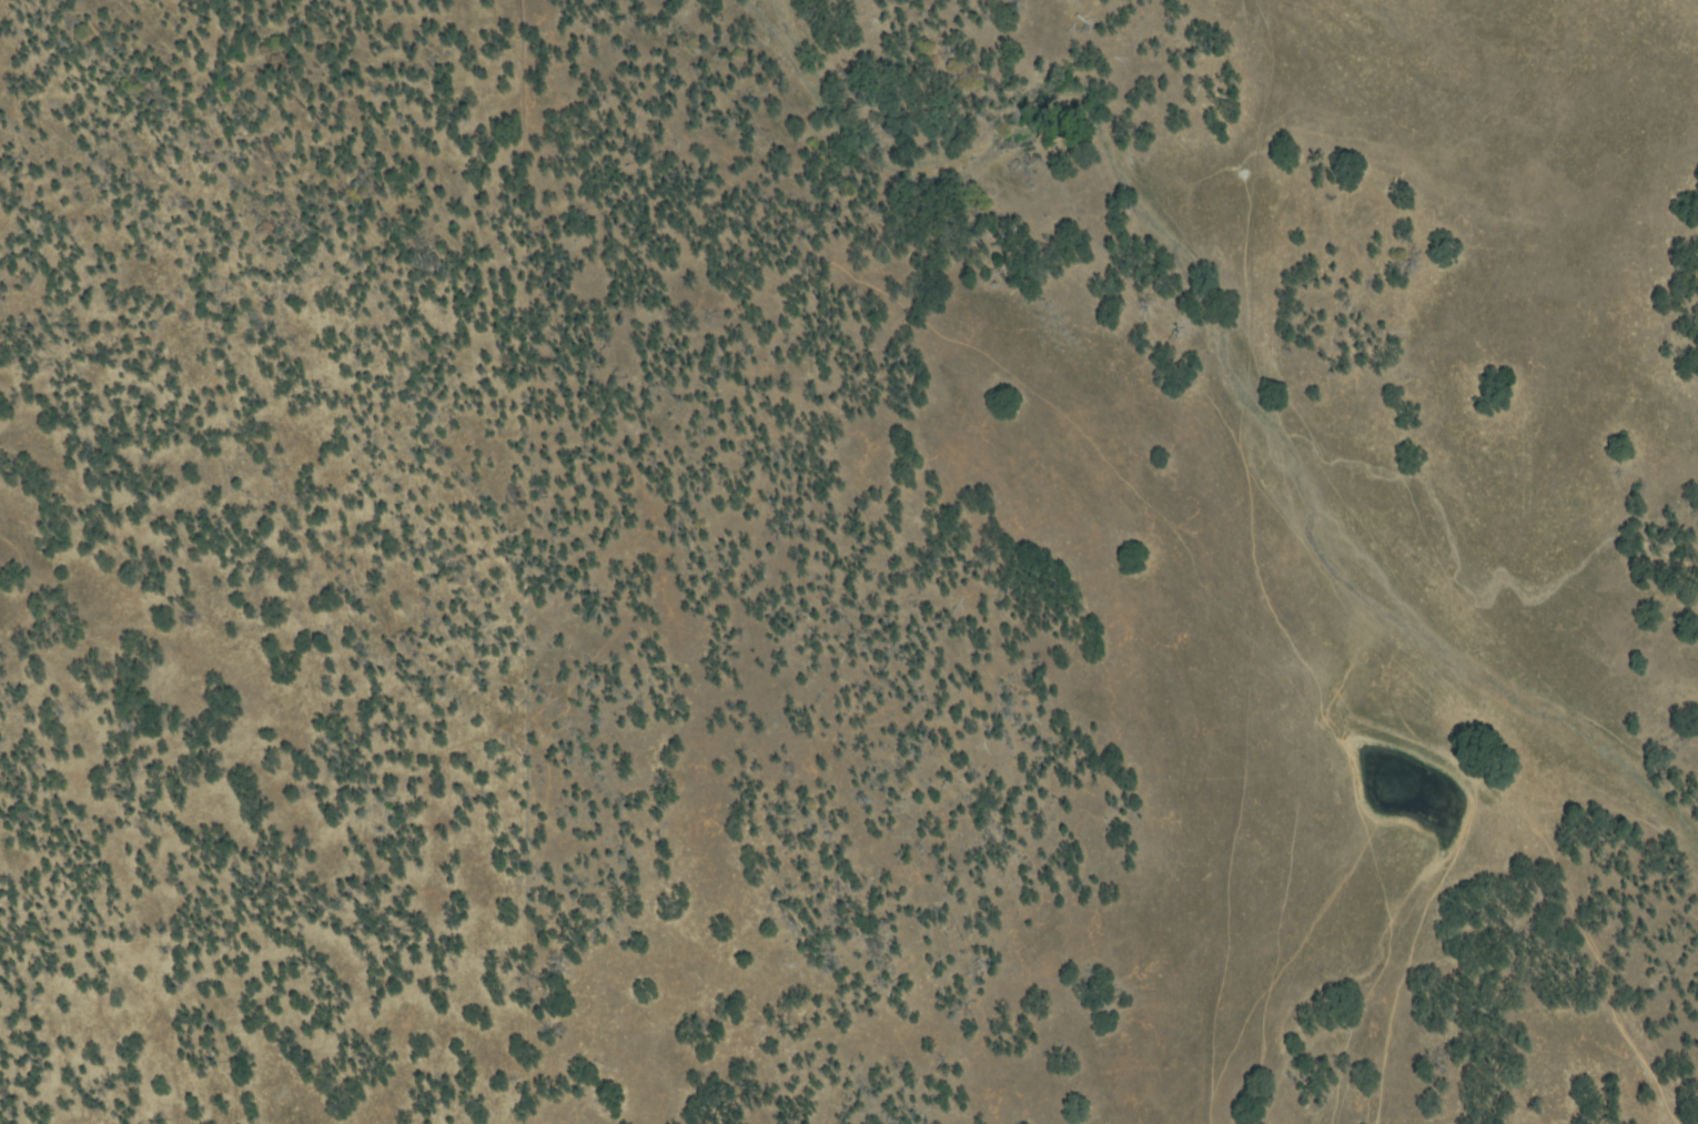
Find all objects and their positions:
road: (1227, 970)

